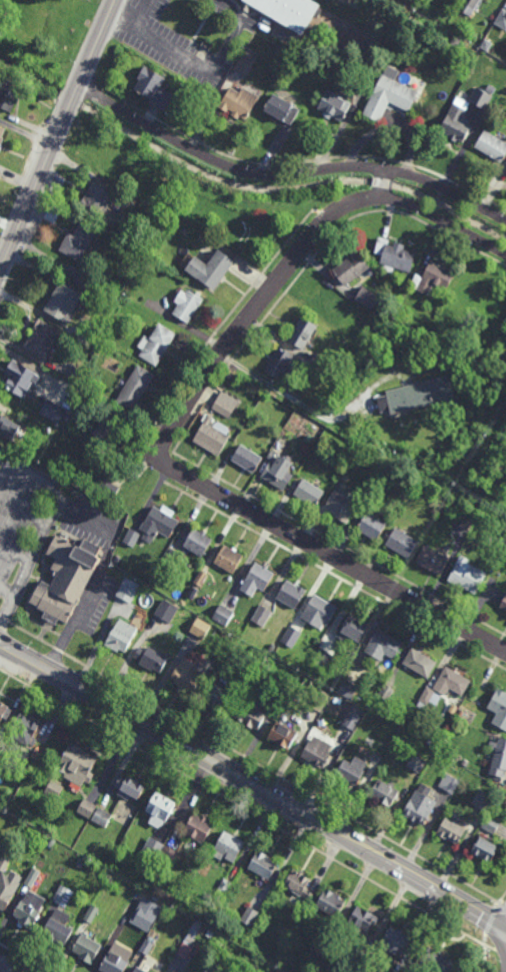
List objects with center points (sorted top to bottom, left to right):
building: (460, 0)
building: (326, 1)
building: (454, 2)
building: (467, 6)
building: (287, 12)
road: (144, 14)
building: (501, 19)
road: (97, 43)
building: (455, 43)
building: (486, 44)
building: (246, 61)
road: (199, 65)
building: (360, 83)
building: (153, 86)
building: (491, 91)
building: (9, 92)
building: (389, 94)
road: (105, 96)
road: (74, 97)
building: (481, 97)
building: (239, 100)
building: (334, 104)
building: (282, 107)
building: (437, 112)
building: (456, 123)
building: (1, 132)
building: (492, 145)
building: (0, 146)
building: (110, 162)
road: (303, 162)
road: (225, 165)
road: (390, 166)
road: (382, 183)
road: (389, 184)
road: (34, 189)
road: (449, 191)
road: (385, 198)
building: (96, 200)
road: (388, 205)
road: (327, 215)
road: (448, 224)
building: (240, 225)
building: (161, 241)
building: (78, 242)
building: (395, 255)
building: (210, 267)
building: (351, 267)
building: (433, 278)
building: (85, 279)
building: (367, 297)
building: (62, 302)
building: (187, 305)
building: (336, 305)
road: (231, 312)
building: (302, 332)
building: (422, 335)
building: (353, 336)
building: (42, 339)
building: (155, 344)
building: (74, 356)
building: (279, 361)
building: (317, 372)
building: (228, 374)
building: (19, 378)
building: (134, 388)
building: (417, 395)
road: (290, 399)
building: (225, 404)
building: (52, 411)
building: (67, 416)
road: (195, 417)
building: (8, 427)
building: (107, 429)
building: (210, 436)
road: (163, 440)
building: (271, 455)
building: (247, 458)
road: (167, 467)
road: (180, 471)
building: (279, 472)
building: (100, 479)
building: (498, 485)
building: (91, 486)
building: (308, 492)
building: (401, 495)
building: (340, 506)
building: (467, 521)
building: (158, 523)
building: (372, 526)
building: (132, 537)
road: (110, 541)
building: (198, 542)
building: (402, 543)
road: (33, 555)
building: (171, 558)
building: (116, 559)
building: (228, 559)
building: (432, 560)
road: (335, 576)
building: (467, 577)
building: (66, 578)
building: (200, 578)
building: (256, 580)
building: (128, 590)
building: (291, 594)
building: (504, 604)
road: (7, 607)
building: (167, 611)
building: (318, 611)
building: (223, 615)
building: (261, 616)
building: (200, 628)
building: (354, 628)
building: (121, 636)
building: (291, 637)
building: (382, 645)
building: (271, 649)
building: (324, 654)
building: (151, 659)
building: (419, 662)
building: (250, 663)
building: (187, 675)
building: (284, 681)
building: (451, 682)
building: (347, 689)
building: (385, 693)
building: (215, 696)
building: (428, 698)
building: (318, 700)
building: (499, 708)
building: (4, 709)
building: (249, 713)
building: (460, 713)
building: (351, 720)
building: (25, 727)
building: (283, 733)
building: (442, 744)
building: (318, 750)
building: (498, 757)
road: (249, 760)
building: (76, 763)
building: (415, 763)
building: (20, 769)
building: (349, 772)
building: (448, 783)
road: (252, 784)
building: (128, 787)
building: (54, 788)
building: (384, 792)
building: (483, 801)
building: (160, 806)
building: (418, 807)
building: (86, 808)
road: (245, 809)
building: (101, 817)
building: (490, 824)
building: (199, 827)
building: (451, 830)
building: (51, 842)
building: (228, 846)
building: (485, 849)
building: (158, 852)
building: (79, 861)
building: (4, 862)
building: (263, 865)
building: (32, 876)
building: (224, 886)
building: (300, 887)
building: (65, 892)
building: (5, 894)
road: (502, 898)
building: (330, 903)
road: (502, 905)
building: (30, 909)
building: (91, 913)
building: (249, 915)
road: (491, 919)
building: (361, 921)
building: (58, 927)
building: (119, 929)
building: (210, 932)
building: (189, 940)
building: (394, 941)
building: (146, 946)
building: (86, 947)
road: (498, 952)
road: (484, 953)
building: (315, 957)
building: (437, 960)
building: (114, 962)
building: (356, 962)
road: (7, 968)
building: (142, 968)
building: (203, 971)

